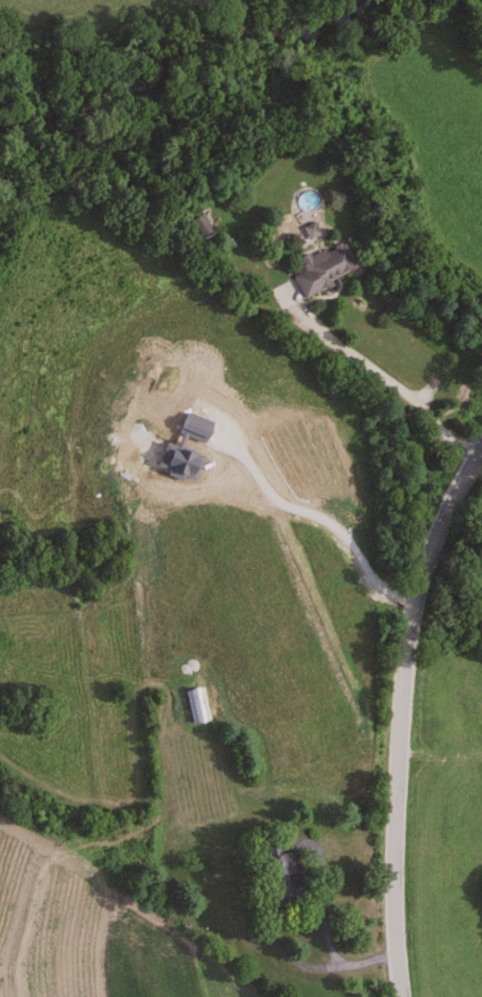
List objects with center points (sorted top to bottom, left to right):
river: (171, 74)
building: (201, 225)
building: (322, 269)
road: (388, 380)
building: (196, 703)
road: (402, 714)
building: (275, 875)
road: (323, 886)
road: (295, 960)

